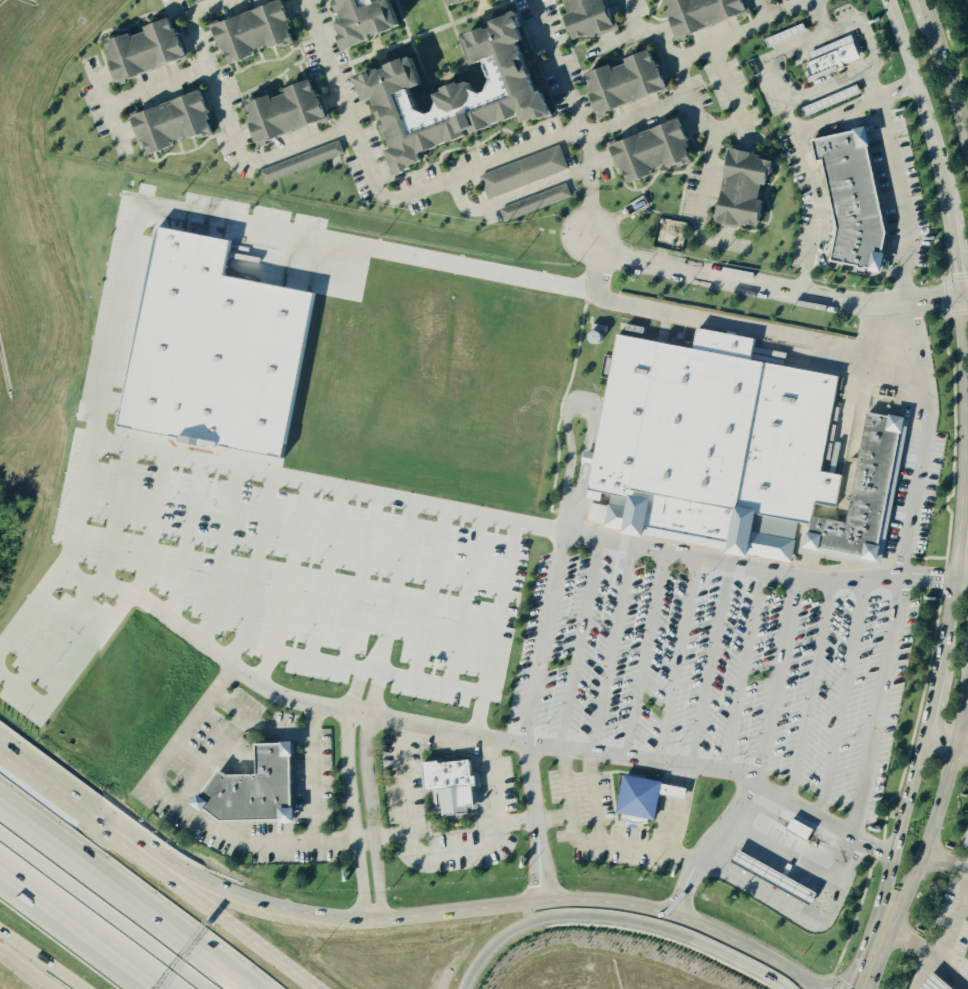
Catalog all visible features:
building: (199, 1)
road: (809, 1)
road: (812, 1)
building: (467, 2)
road: (795, 6)
road: (213, 8)
building: (708, 14)
building: (592, 18)
road: (817, 18)
road: (928, 18)
building: (375, 21)
road: (744, 28)
building: (260, 32)
road: (646, 35)
road: (867, 40)
building: (151, 50)
road: (777, 56)
building: (836, 56)
road: (324, 64)
road: (558, 68)
building: (632, 82)
road: (160, 84)
road: (827, 85)
road: (895, 90)
road: (953, 96)
building: (466, 97)
building: (830, 101)
building: (290, 112)
road: (834, 114)
road: (787, 116)
building: (179, 123)
road: (729, 128)
road: (519, 150)
building: (659, 152)
building: (303, 163)
building: (525, 173)
road: (590, 178)
road: (420, 187)
building: (750, 189)
road: (898, 198)
building: (849, 200)
building: (537, 203)
road: (589, 212)
road: (817, 212)
road: (145, 223)
road: (951, 255)
road: (772, 290)
road: (732, 329)
building: (214, 350)
road: (580, 404)
building: (709, 446)
road: (332, 484)
parking lot: (913, 494)
building: (862, 498)
road: (572, 534)
road: (956, 548)
road: (960, 577)
road: (102, 584)
road: (945, 627)
road: (577, 644)
road: (610, 650)
road: (644, 655)
road: (675, 661)
road: (709, 666)
parking lot: (714, 670)
road: (740, 671)
road: (82, 672)
road: (881, 679)
road: (775, 681)
road: (809, 691)
road: (840, 699)
road: (930, 706)
road: (275, 729)
road: (438, 730)
road: (938, 743)
road: (222, 747)
road: (960, 752)
road: (310, 773)
building: (445, 786)
building: (249, 789)
building: (670, 792)
building: (635, 798)
road: (596, 800)
road: (79, 810)
road: (352, 818)
road: (553, 818)
road: (374, 819)
road: (822, 820)
road: (201, 821)
road: (516, 822)
building: (796, 830)
road: (927, 841)
road: (589, 845)
road: (707, 846)
road: (442, 848)
road: (936, 849)
road: (779, 855)
road: (889, 863)
road: (956, 863)
road: (931, 864)
building: (769, 878)
gas station: (769, 878)
road: (116, 901)
road: (963, 906)
road: (489, 908)
road: (616, 919)
road: (79, 927)
road: (238, 929)
road: (901, 929)
road: (946, 936)
road: (895, 943)
road: (920, 947)
road: (36, 964)
road: (28, 965)
road: (950, 970)
building: (931, 984)

